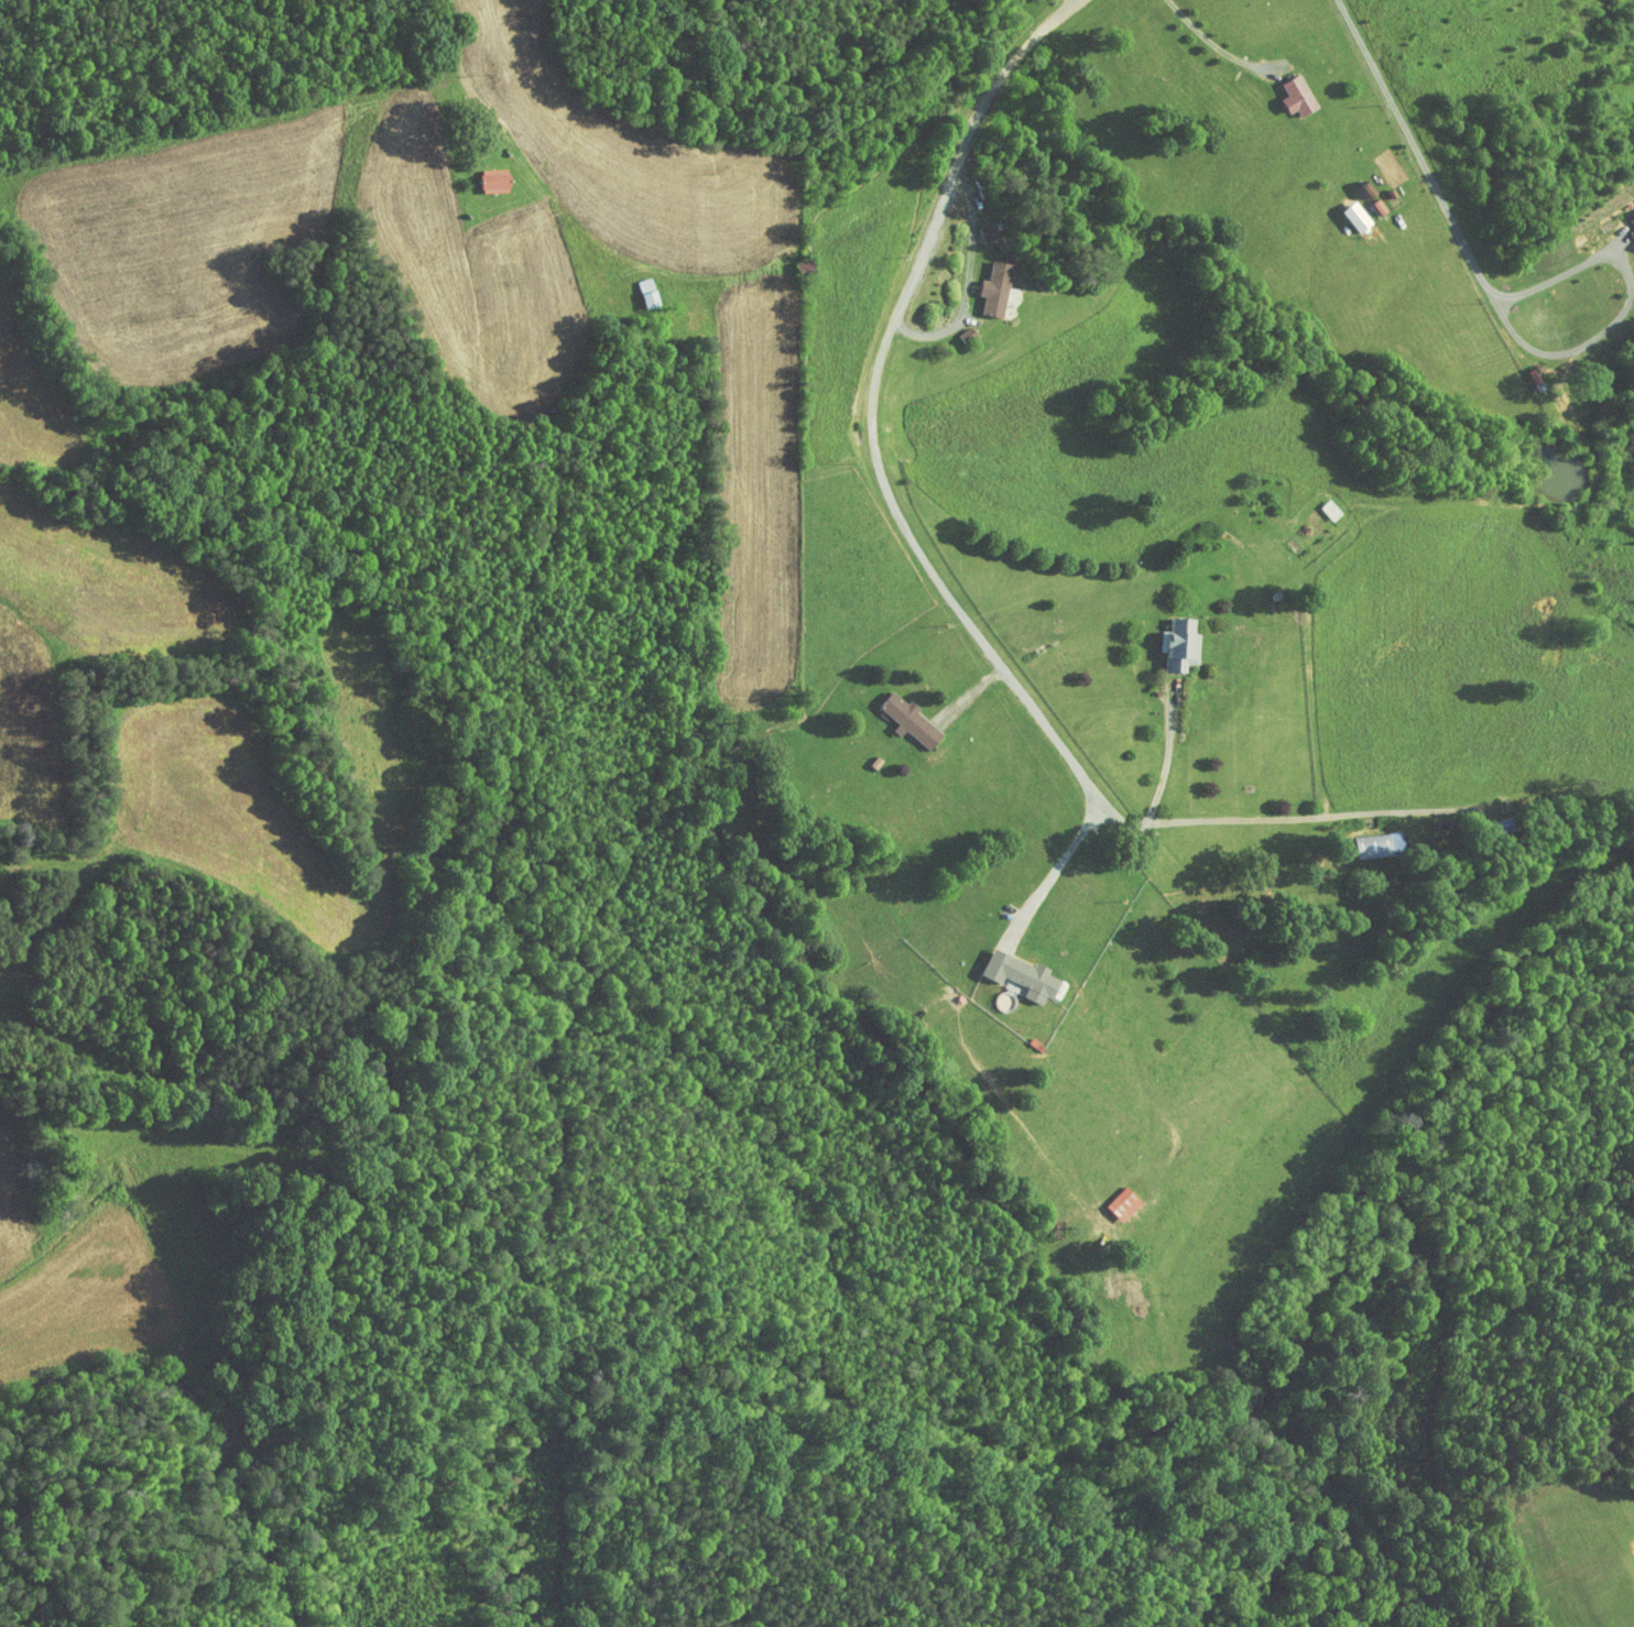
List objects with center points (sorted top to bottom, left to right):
road: (1058, 9)
road: (1210, 43)
building: (1284, 89)
road: (1414, 146)
building: (480, 174)
building: (1353, 183)
building: (1342, 210)
building: (1628, 218)
building: (974, 227)
road: (921, 254)
building: (983, 283)
road: (1626, 305)
building: (952, 328)
road: (883, 361)
building: (1317, 503)
building: (1167, 638)
building: (895, 714)
road: (1167, 757)
road: (1253, 819)
building: (1364, 838)
road: (1064, 859)
building: (1007, 968)
building: (1109, 1197)

